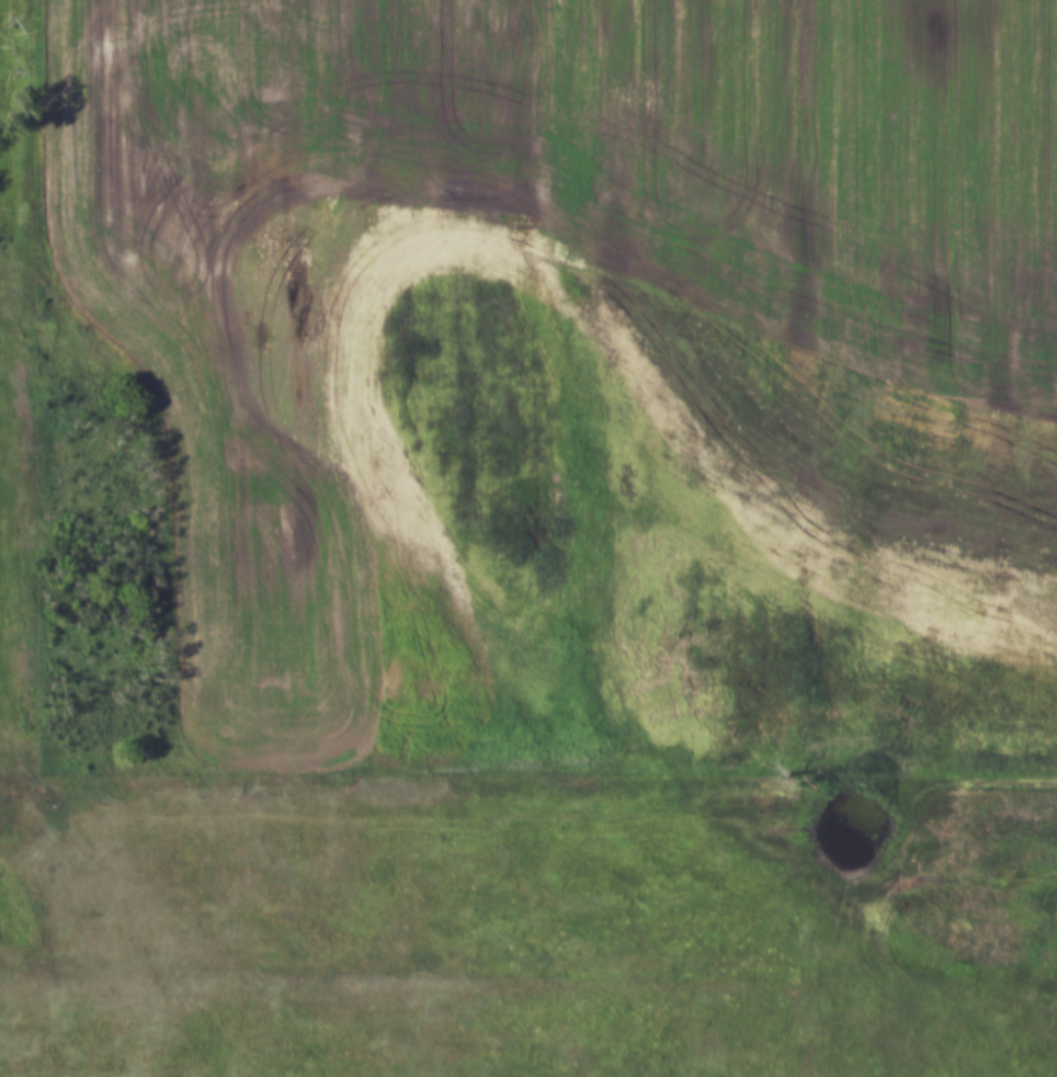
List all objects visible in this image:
building: (976, 316)

